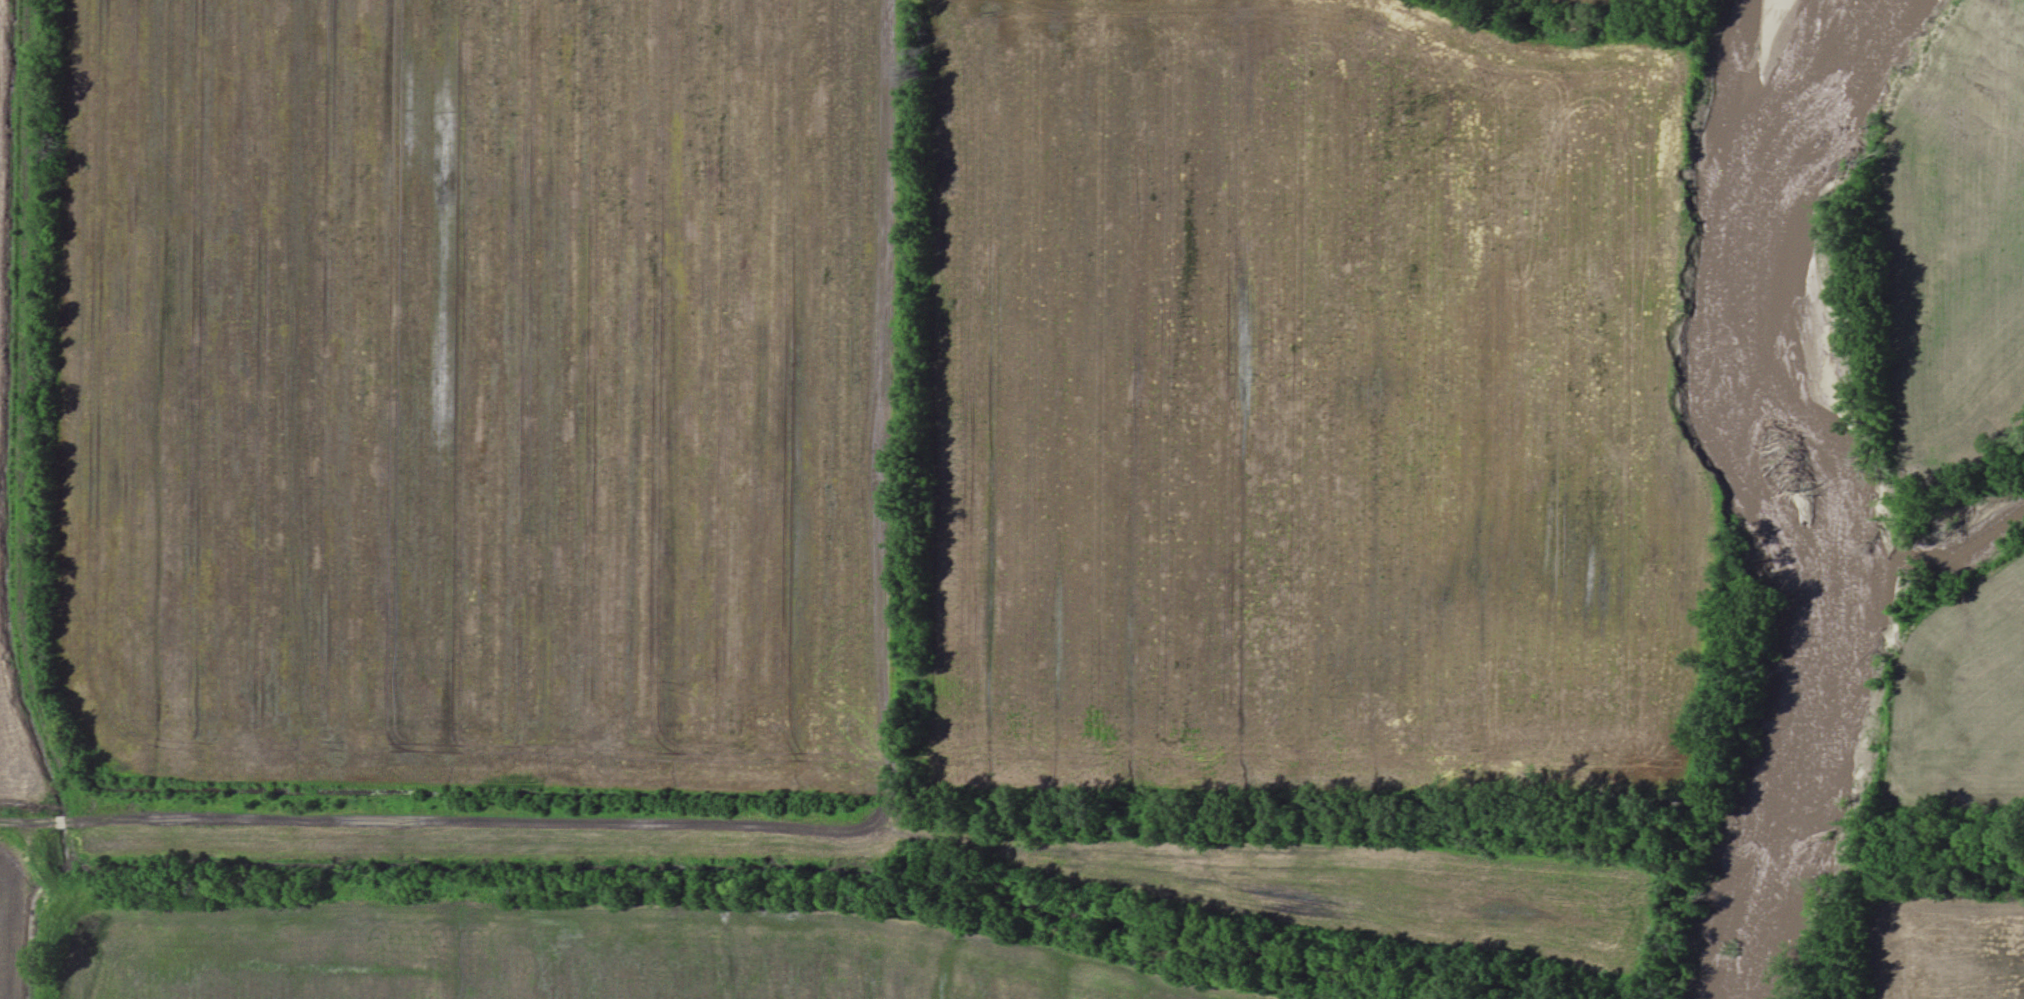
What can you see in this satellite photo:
river: (1808, 501)
river: (1901, 568)
road: (501, 816)

